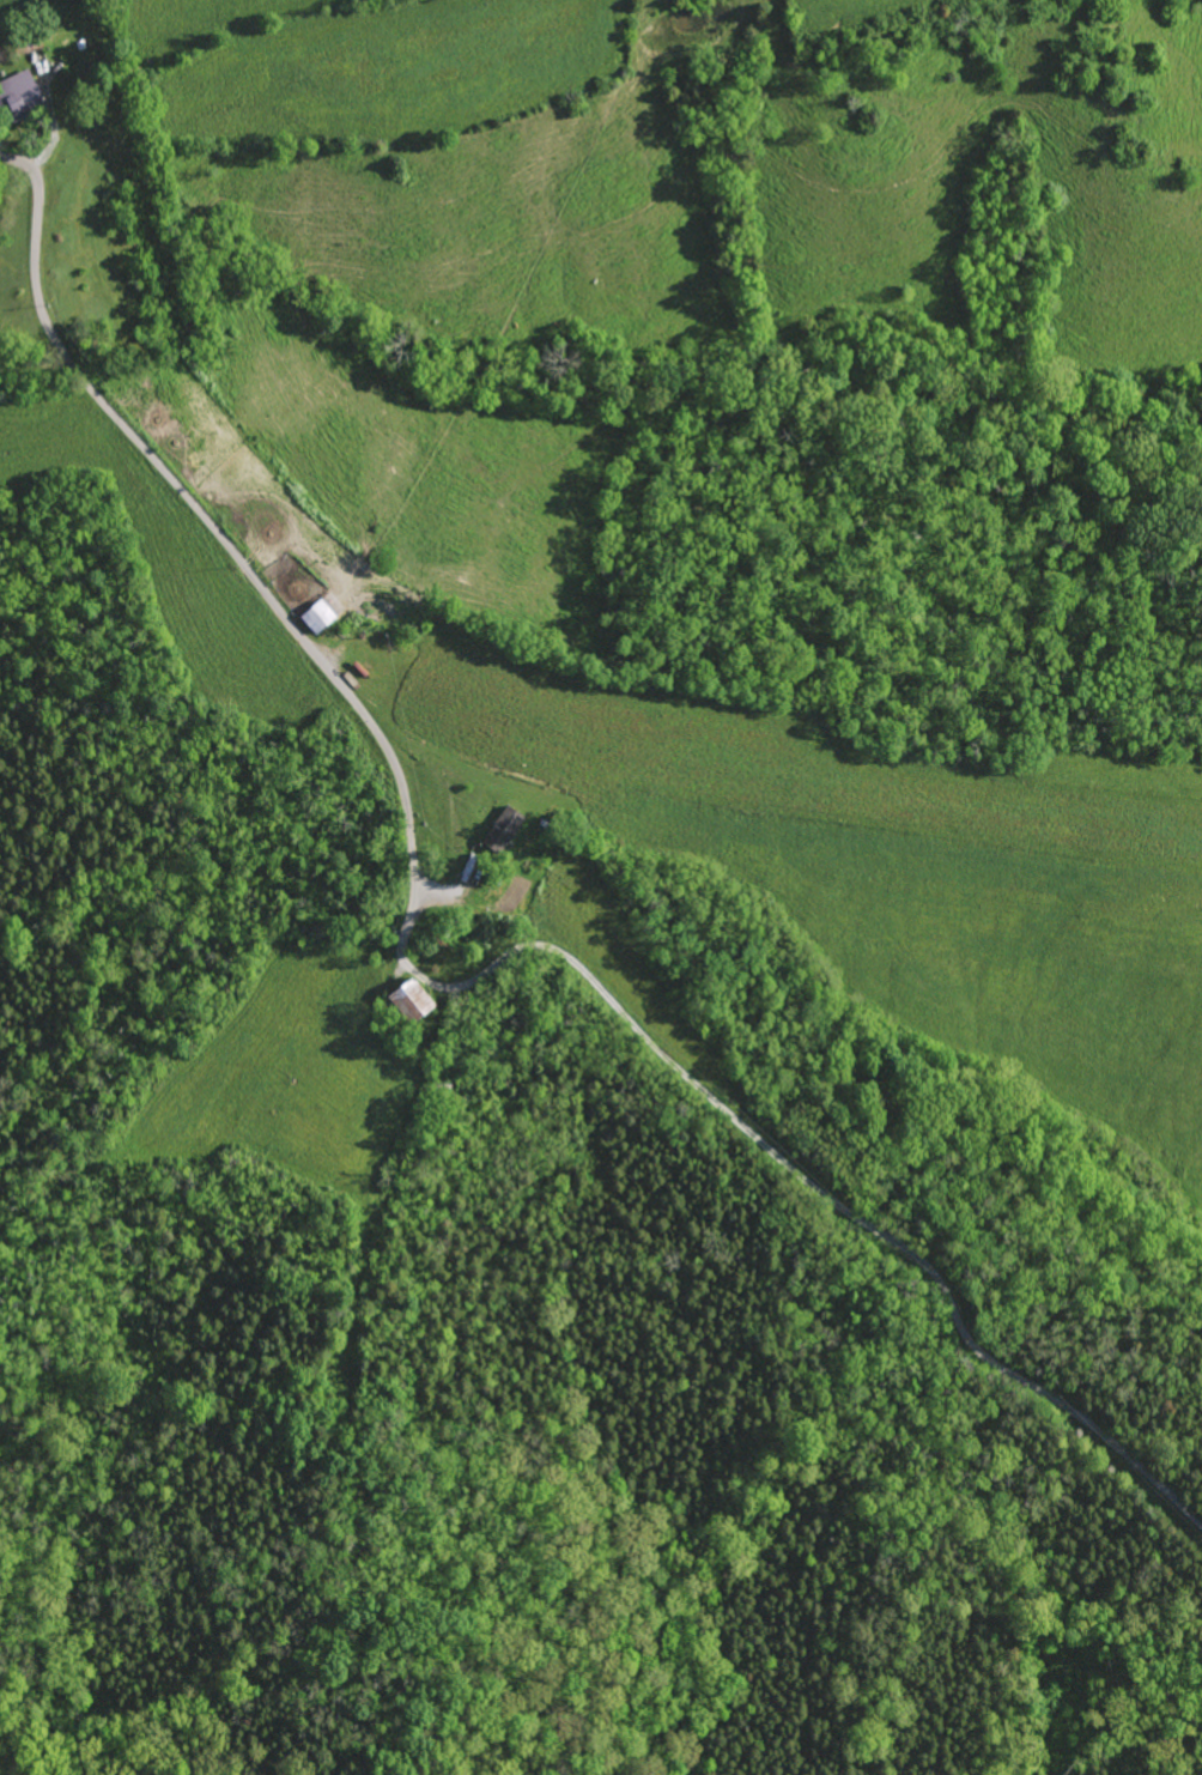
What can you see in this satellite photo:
building: (17, 96)
road: (1, 155)
road: (125, 428)
building: (314, 617)
road: (378, 735)
building: (498, 830)
road: (450, 987)
building: (405, 1001)
road: (893, 1240)

